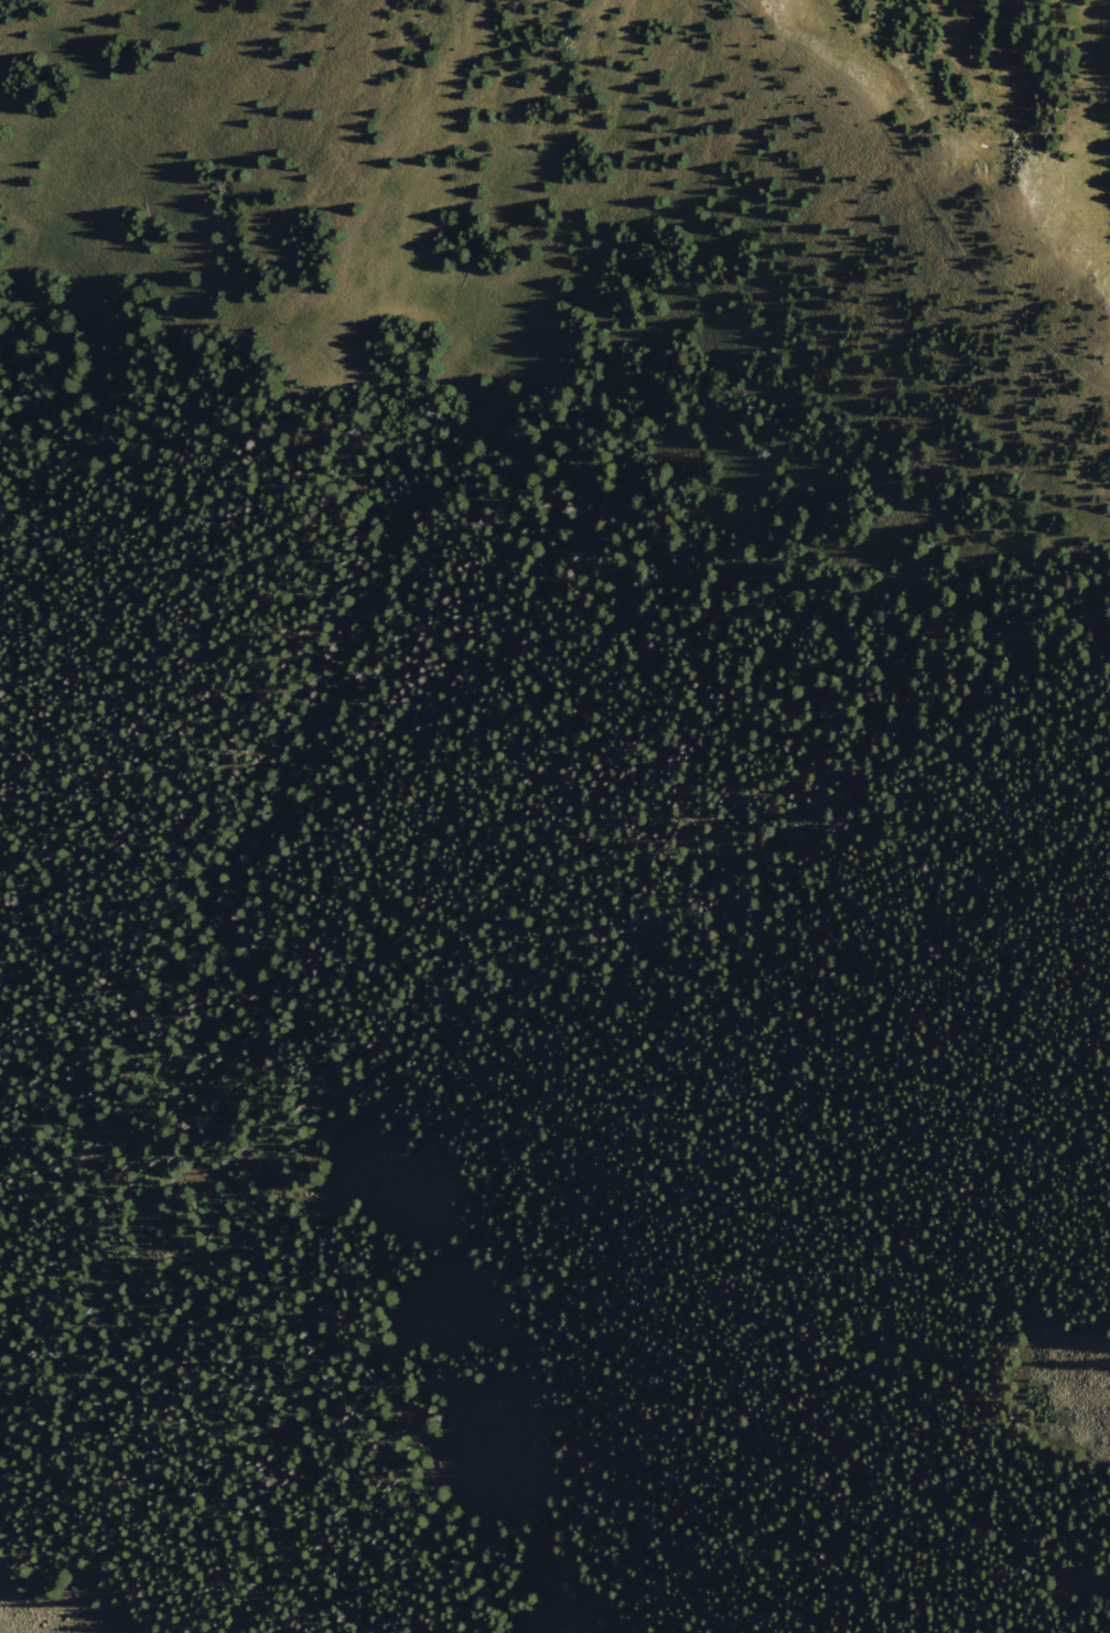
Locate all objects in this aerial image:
ski resort: (1000, 89)

